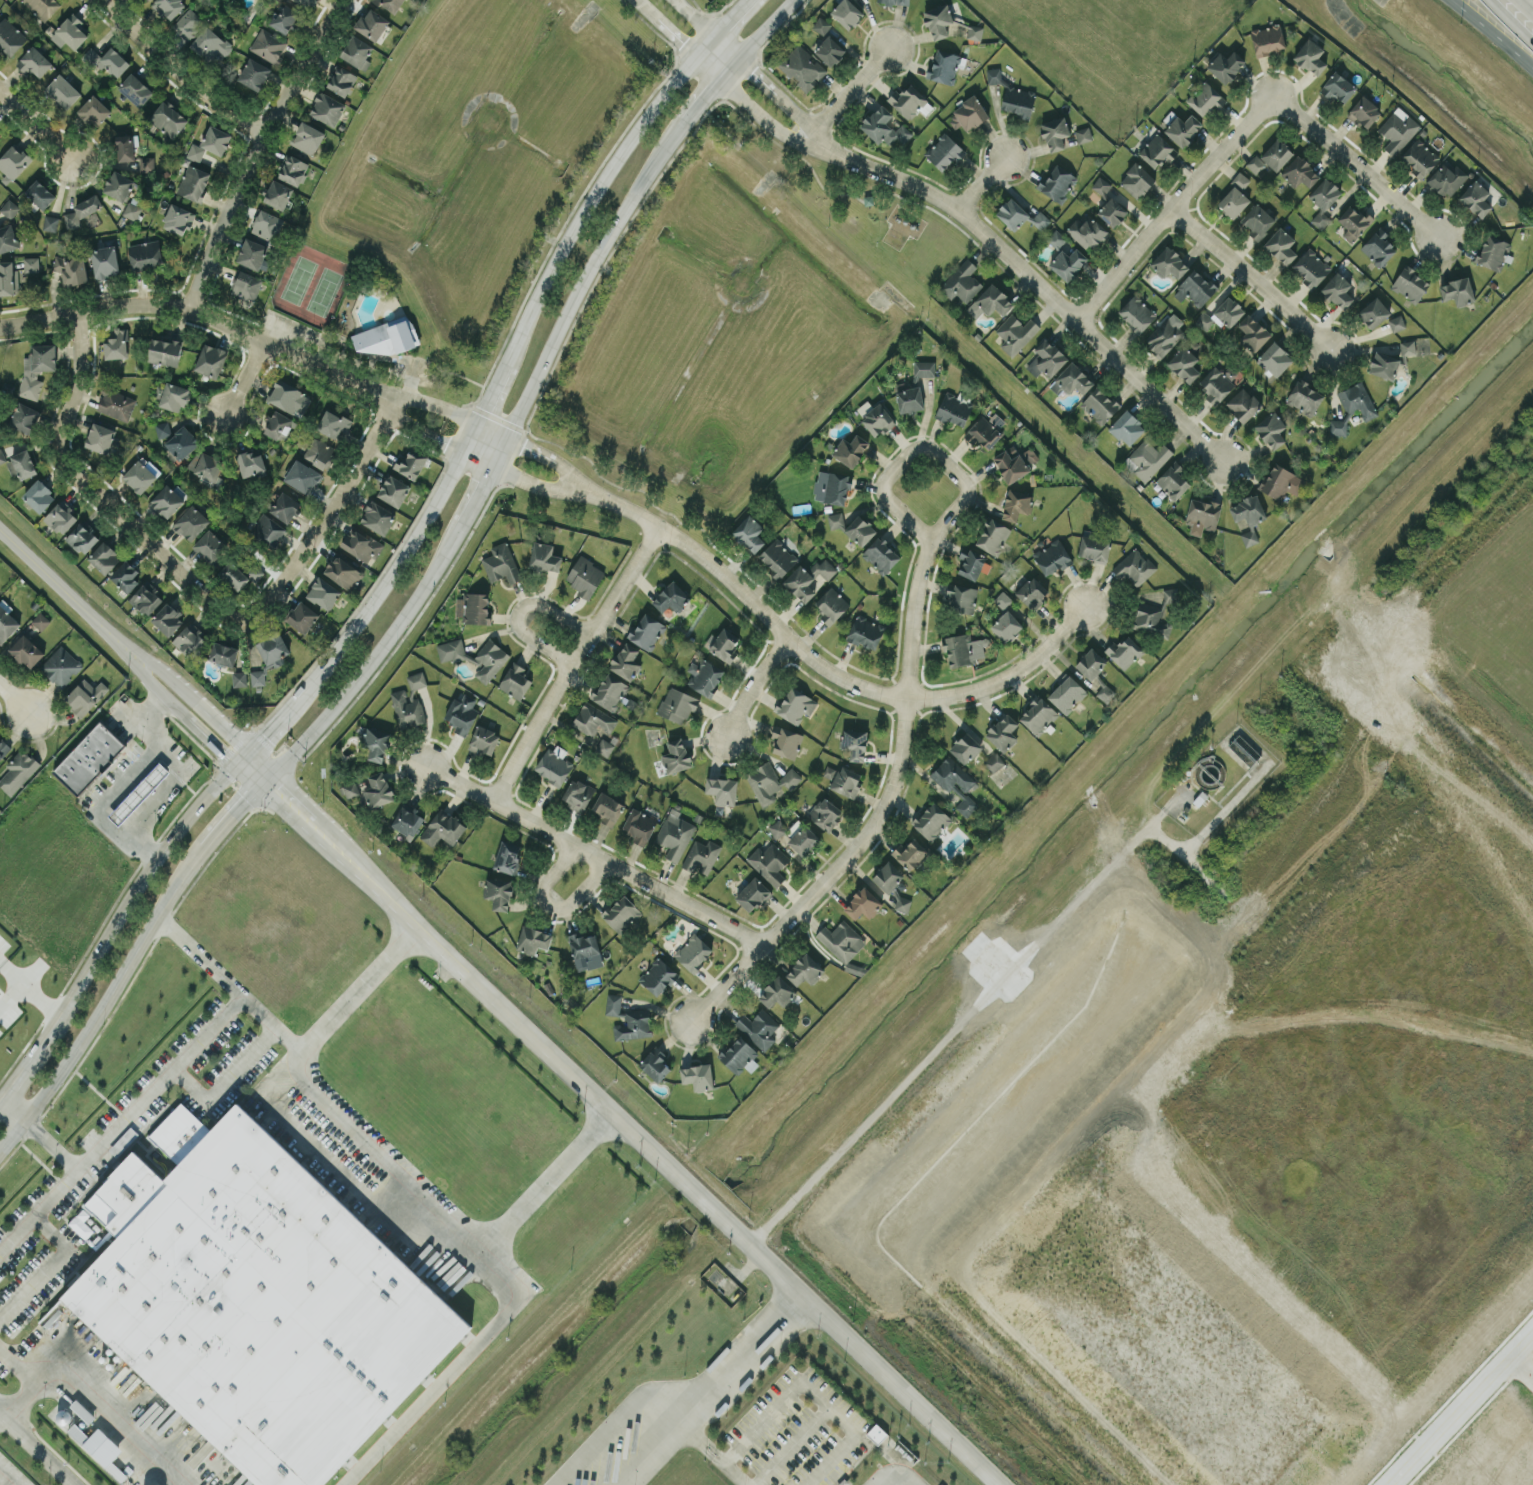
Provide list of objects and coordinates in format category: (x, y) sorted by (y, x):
building: (145, 0)
road: (1532, 0)
building: (896, 1)
building: (306, 2)
building: (389, 4)
building: (43, 7)
building: (168, 7)
building: (846, 13)
building: (284, 18)
road: (1513, 19)
building: (938, 20)
building: (187, 24)
building: (371, 24)
building: (821, 25)
building: (69, 31)
road: (1495, 31)
building: (974, 32)
building: (10, 36)
building: (1267, 39)
building: (209, 45)
building: (268, 45)
building: (829, 50)
building: (356, 51)
building: (1310, 56)
building: (106, 60)
building: (34, 62)
building: (945, 65)
building: (1225, 65)
building: (802, 67)
road: (184, 69)
building: (254, 73)
building: (993, 75)
building: (341, 80)
road: (763, 80)
building: (1338, 87)
building: (135, 89)
building: (62, 91)
road: (846, 94)
road: (732, 95)
building: (1205, 98)
building: (909, 101)
building: (1018, 101)
building: (327, 108)
building: (93, 110)
building: (1363, 112)
building: (967, 114)
building: (168, 119)
road: (34, 125)
building: (884, 127)
building: (1183, 129)
building: (0, 131)
building: (1397, 131)
building: (1055, 133)
building: (1083, 134)
building: (307, 137)
building: (210, 143)
building: (126, 146)
road: (257, 146)
building: (944, 151)
building: (1157, 151)
building: (1276, 154)
building: (1419, 157)
road: (1351, 160)
building: (13, 161)
building: (146, 163)
building: (1255, 164)
building: (292, 169)
building: (1299, 172)
building: (1447, 178)
building: (1136, 180)
building: (193, 182)
building: (1057, 183)
building: (118, 185)
road: (982, 185)
building: (1101, 186)
building: (40, 193)
building: (277, 194)
road: (591, 196)
building: (1235, 196)
building: (1475, 198)
building: (1323, 200)
road: (626, 201)
building: (9, 208)
building: (82, 210)
building: (131, 210)
building: (1112, 212)
road: (1168, 212)
building: (1012, 213)
building: (177, 218)
building: (1039, 219)
building: (1257, 221)
building: (1353, 221)
building: (50, 222)
building: (265, 224)
building: (1087, 232)
building: (7, 238)
building: (1056, 239)
building: (1281, 245)
building: (1378, 247)
building: (1492, 252)
building: (251, 253)
building: (144, 254)
building: (105, 261)
building: (31, 263)
building: (1067, 263)
building: (1168, 263)
building: (1310, 267)
building: (71, 268)
building: (8, 278)
road: (1251, 278)
building: (961, 282)
building: (1410, 284)
building: (245, 285)
park: (312, 288)
building: (1195, 288)
building: (1337, 290)
building: (1457, 290)
road: (1049, 294)
building: (990, 301)
road: (204, 308)
building: (1373, 312)
building: (1136, 313)
building: (1221, 314)
building: (1396, 323)
building: (1015, 333)
building: (1252, 333)
building: (384, 337)
building: (1163, 337)
building: (116, 344)
building: (1407, 347)
building: (164, 351)
building: (1046, 359)
building: (1274, 359)
building: (210, 360)
building: (1184, 364)
building: (1383, 365)
building: (36, 368)
building: (924, 369)
road: (245, 379)
building: (1071, 380)
building: (1215, 384)
building: (173, 396)
building: (288, 397)
building: (909, 397)
building: (1304, 397)
building: (1356, 400)
building: (115, 402)
building: (1099, 404)
building: (1243, 404)
road: (433, 405)
building: (953, 409)
road: (401, 413)
building: (24, 417)
building: (877, 420)
building: (333, 422)
building: (279, 425)
building: (1127, 427)
building: (1337, 427)
road: (490, 428)
building: (162, 429)
building: (1271, 429)
building: (983, 432)
road: (468, 435)
building: (99, 437)
road: (437, 437)
building: (181, 442)
road: (530, 448)
building: (850, 449)
road: (498, 451)
building: (319, 452)
building: (2, 456)
road: (476, 458)
building: (1146, 458)
building: (250, 463)
building: (410, 463)
building: (1014, 463)
building: (21, 464)
building: (205, 464)
building: (140, 474)
building: (302, 475)
road: (577, 477)
building: (1172, 480)
building: (1281, 481)
road: (544, 484)
building: (834, 487)
road: (95, 490)
building: (393, 490)
building: (38, 495)
building: (166, 501)
road: (959, 502)
building: (1016, 504)
building: (285, 506)
building: (1247, 509)
road: (327, 515)
building: (1202, 515)
building: (377, 516)
building: (61, 518)
building: (835, 520)
building: (191, 522)
building: (268, 530)
building: (860, 530)
building: (749, 533)
building: (992, 535)
building: (1248, 536)
building: (82, 538)
building: (361, 544)
building: (209, 545)
building: (1093, 546)
building: (880, 555)
building: (104, 557)
building: (544, 557)
building: (777, 557)
building: (1051, 557)
building: (501, 563)
building: (970, 563)
building: (1135, 567)
building: (342, 571)
building: (239, 573)
building: (125, 576)
building: (584, 576)
building: (808, 578)
road: (383, 582)
road: (419, 591)
building: (323, 592)
building: (1032, 592)
building: (1170, 594)
building: (670, 597)
building: (961, 597)
building: (146, 598)
road: (71, 599)
building: (1002, 599)
building: (831, 605)
building: (473, 607)
road: (518, 610)
building: (301, 616)
building: (167, 617)
building: (1150, 619)
building: (40, 620)
building: (6, 622)
building: (1006, 626)
building: (646, 631)
building: (865, 631)
building: (189, 640)
building: (724, 644)
building: (272, 647)
building: (963, 649)
building: (26, 650)
building: (450, 650)
building: (1124, 651)
building: (223, 654)
building: (489, 660)
building: (625, 660)
road: (574, 662)
building: (1090, 663)
building: (60, 665)
road: (830, 671)
building: (257, 676)
building: (705, 676)
building: (239, 678)
building: (416, 680)
building: (515, 680)
road: (755, 684)
building: (609, 691)
building: (1105, 692)
building: (1066, 693)
building: (85, 695)
road: (15, 699)
road: (194, 702)
building: (677, 704)
building: (795, 705)
building: (407, 709)
road: (184, 712)
building: (461, 713)
building: (1038, 715)
building: (593, 719)
road: (265, 731)
building: (1003, 732)
building: (483, 740)
building: (786, 741)
road: (297, 742)
building: (376, 743)
building: (854, 743)
building: (3, 747)
building: (604, 747)
building: (965, 747)
building: (1244, 750)
road: (237, 754)
building: (677, 755)
building: (88, 758)
building: (993, 762)
building: (553, 764)
road: (251, 768)
building: (17, 771)
building: (829, 771)
road: (178, 773)
building: (846, 780)
building: (769, 781)
building: (955, 783)
building: (350, 788)
building: (378, 789)
building: (722, 789)
building: (138, 792)
building: (578, 794)
road: (110, 796)
road: (1226, 807)
building: (607, 808)
road: (234, 813)
building: (824, 813)
building: (407, 819)
building: (931, 821)
building: (639, 825)
building: (443, 828)
building: (777, 828)
road: (869, 830)
building: (674, 834)
building: (802, 839)
building: (910, 853)
building: (701, 855)
building: (507, 856)
road: (593, 857)
road: (1187, 860)
building: (769, 862)
building: (888, 876)
building: (498, 893)
building: (752, 894)
building: (863, 903)
building: (902, 903)
road: (548, 906)
building: (621, 913)
road: (115, 922)
building: (533, 939)
building: (841, 940)
building: (585, 950)
building: (693, 952)
road: (200, 955)
road: (1, 960)
building: (804, 969)
building: (657, 976)
road: (731, 978)
road: (30, 988)
road: (358, 989)
building: (776, 992)
road: (11, 993)
road: (105, 999)
building: (613, 1004)
building: (633, 1024)
building: (758, 1027)
road: (955, 1028)
building: (739, 1055)
building: (655, 1065)
road: (223, 1076)
building: (698, 1076)
road: (139, 1104)
road: (630, 1133)
road: (339, 1170)
road: (545, 1183)
road: (39, 1210)
road: (478, 1250)
road: (45, 1266)
building: (257, 1299)
road: (1521, 1346)
road: (1521, 1368)
road: (26, 1388)
road: (814, 1389)
road: (712, 1392)
road: (93, 1404)
building: (82, 1410)
road: (616, 1420)
road: (1450, 1422)
building: (876, 1433)
road: (702, 1440)
building: (96, 1443)
road: (36, 1450)
road: (735, 1473)
road: (3, 1481)

